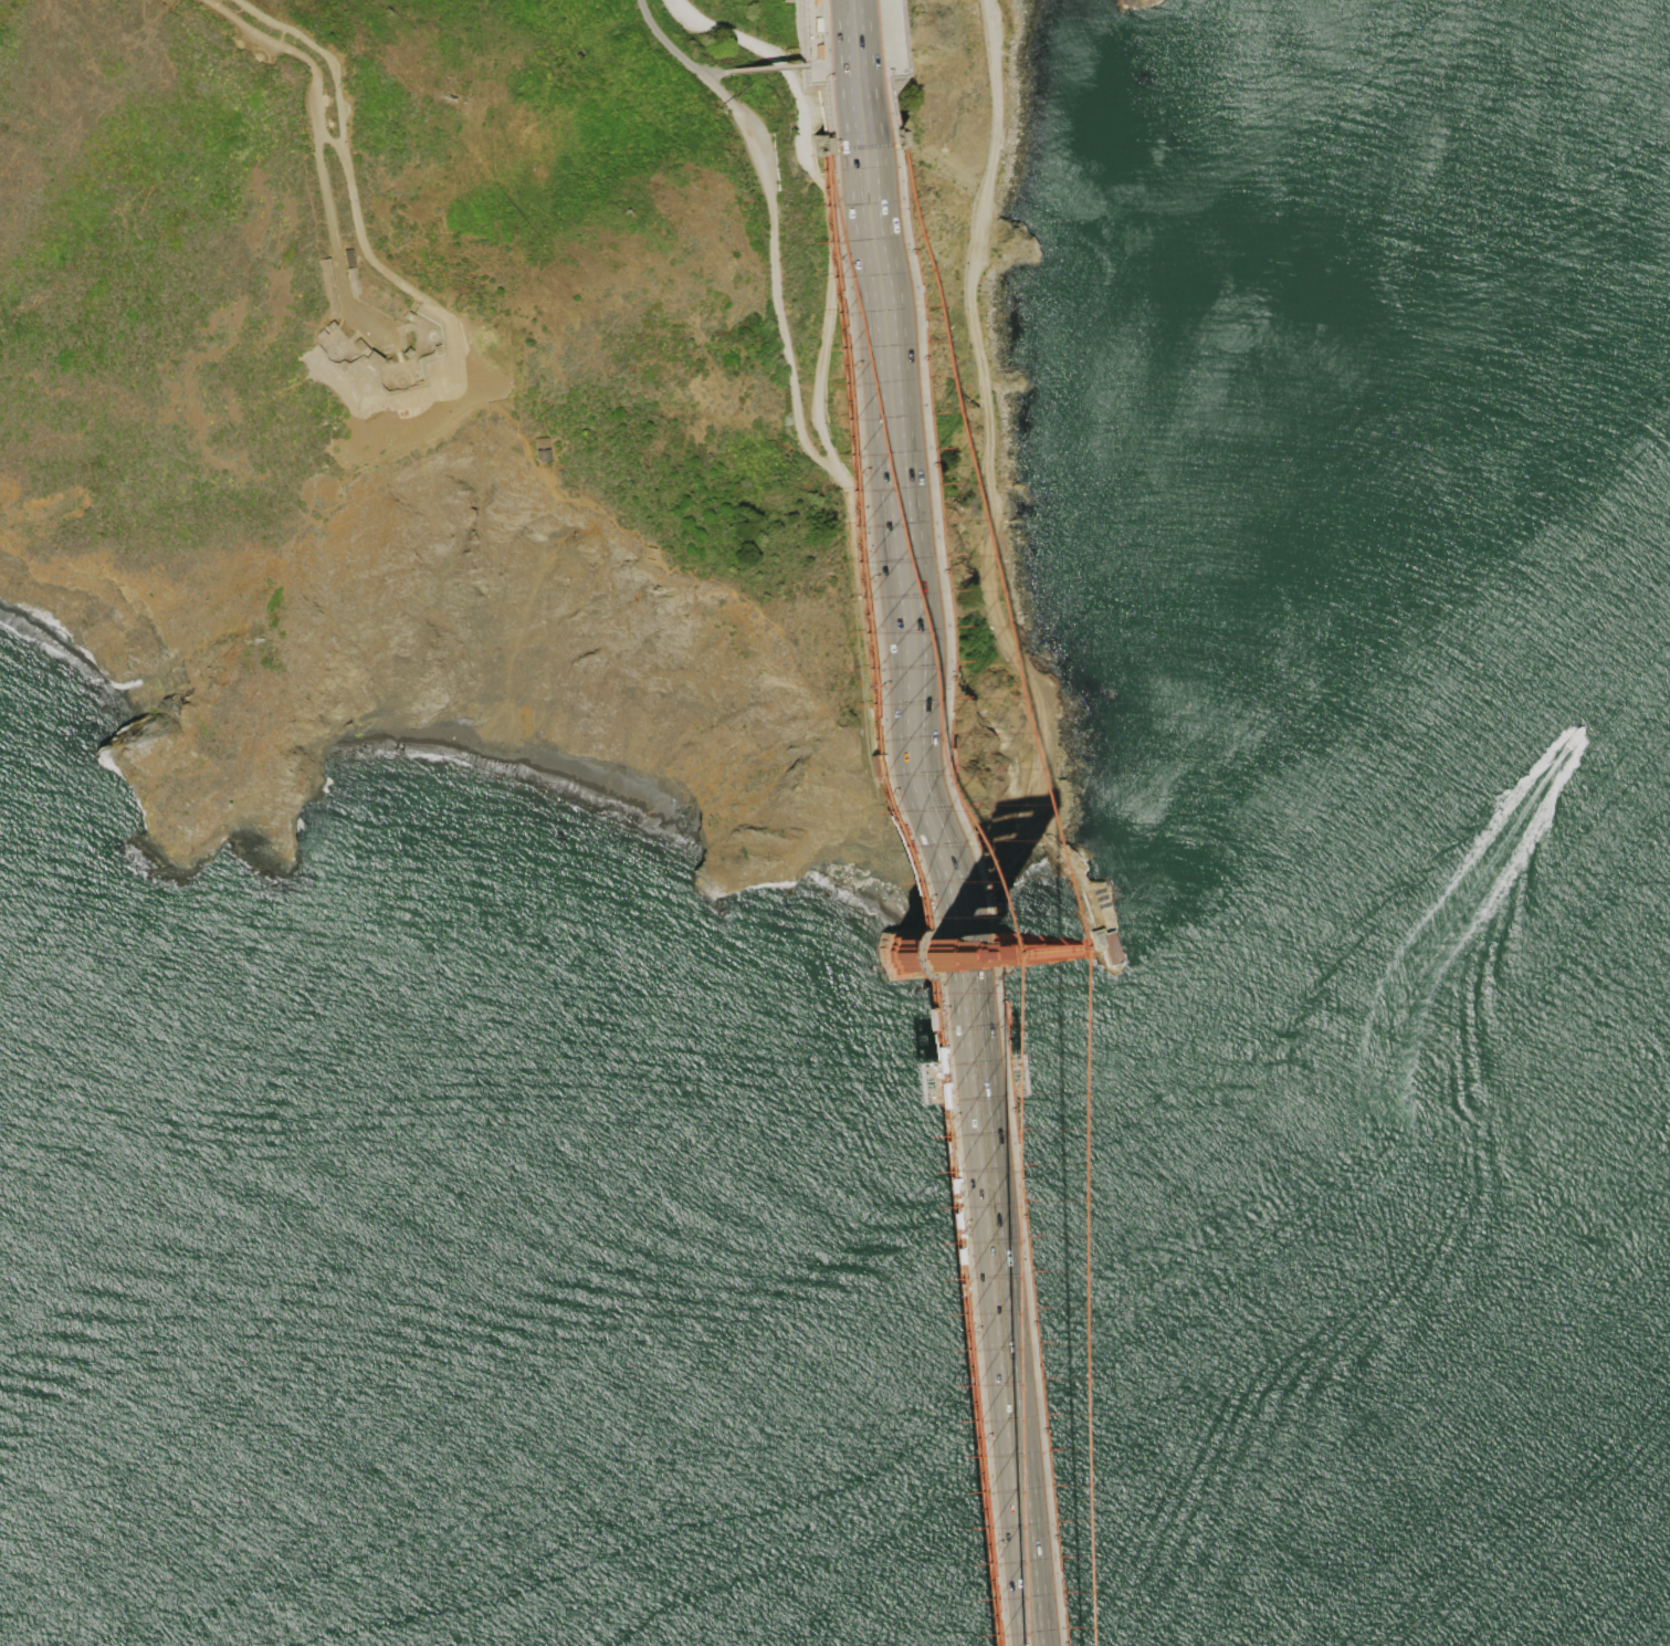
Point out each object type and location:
road: (283, 30)
road: (280, 42)
road: (769, 66)
road: (713, 73)
road: (329, 140)
road: (319, 158)
road: (350, 190)
road: (364, 327)
road: (397, 331)
road: (396, 368)
road: (402, 371)
road: (989, 431)
building: (534, 442)
building: (534, 455)
road: (838, 470)
road: (903, 822)
road: (923, 822)
road: (886, 834)
road: (944, 834)
road: (1086, 883)
building: (1102, 943)
lighthouse: (1110, 955)

